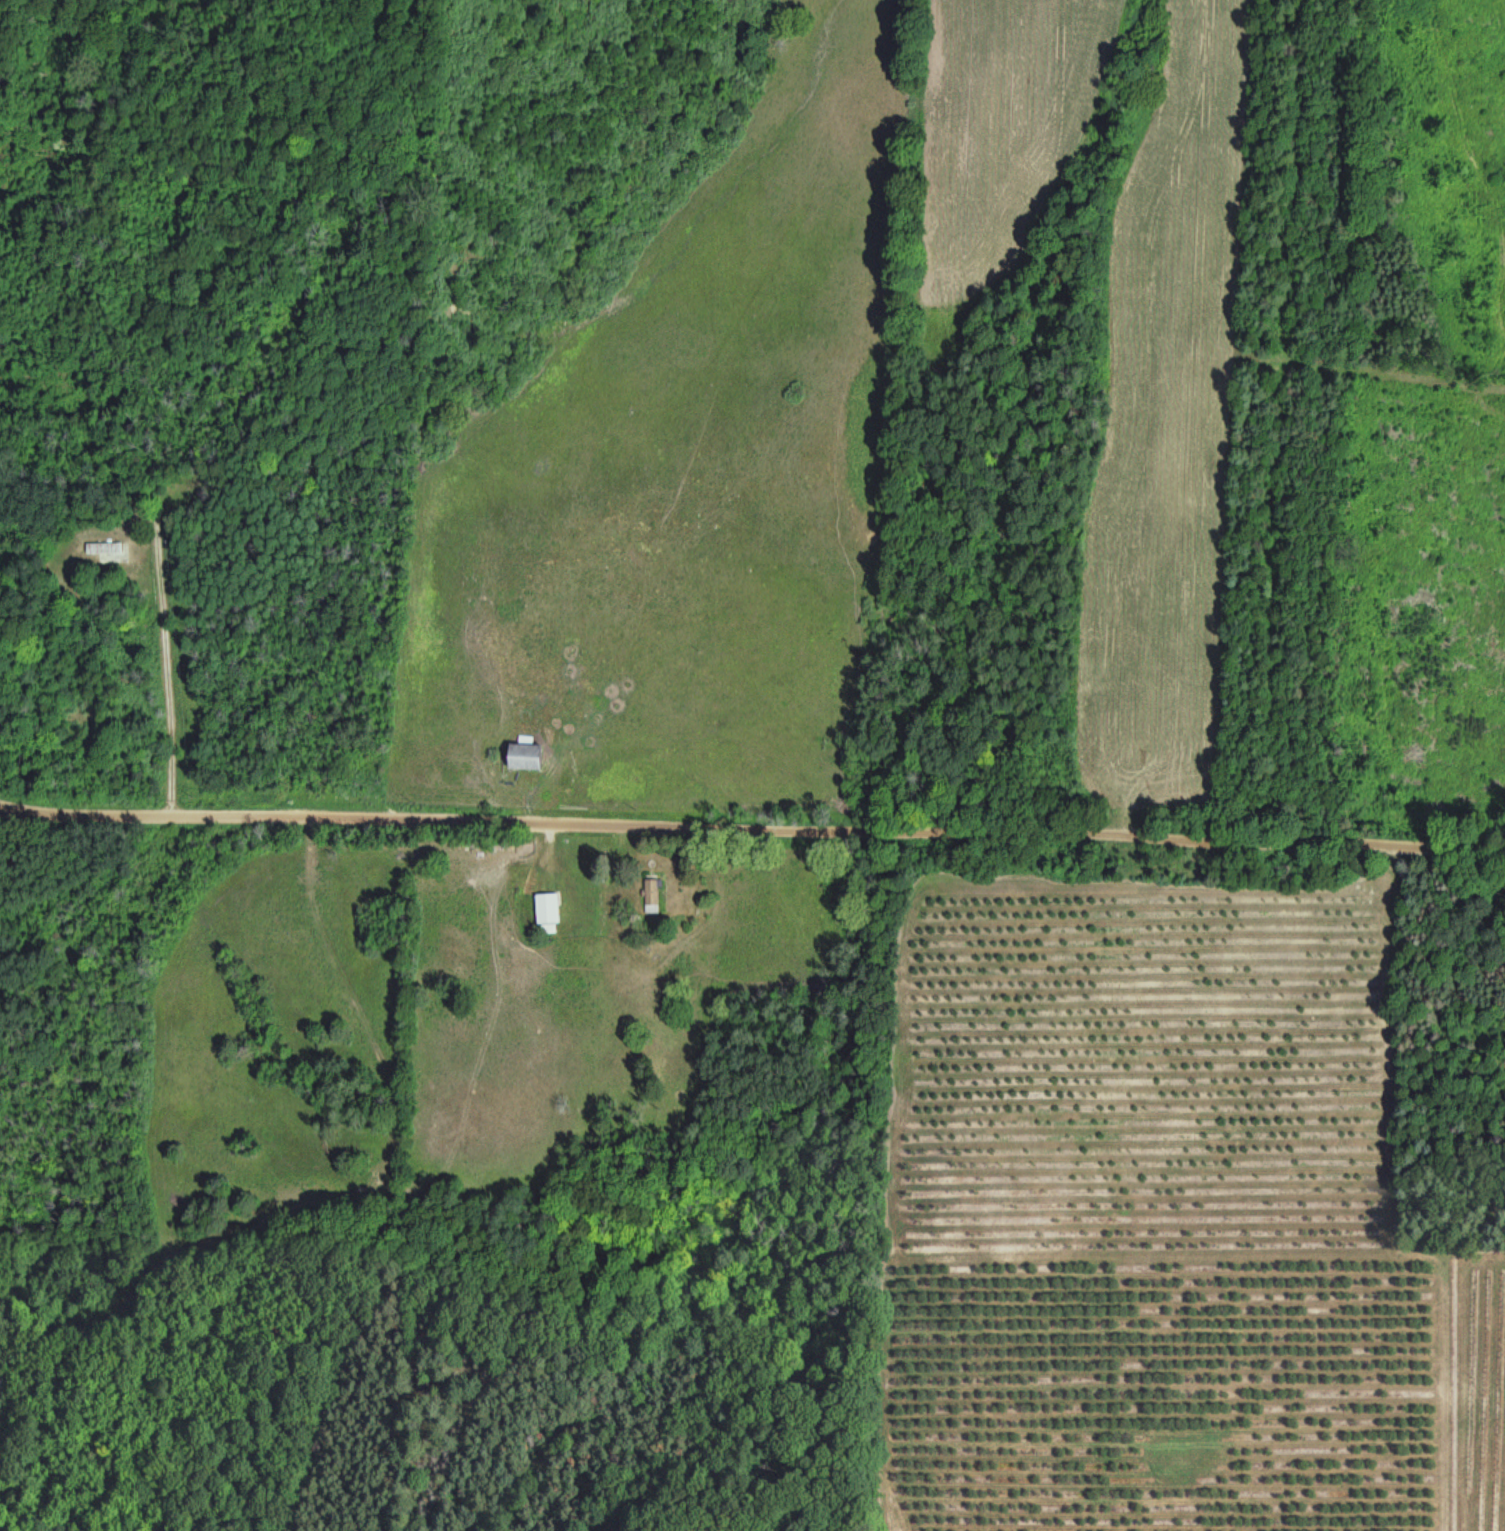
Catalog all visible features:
building: (102, 551)
building: (520, 758)
road: (756, 810)
building: (652, 897)
building: (545, 910)

